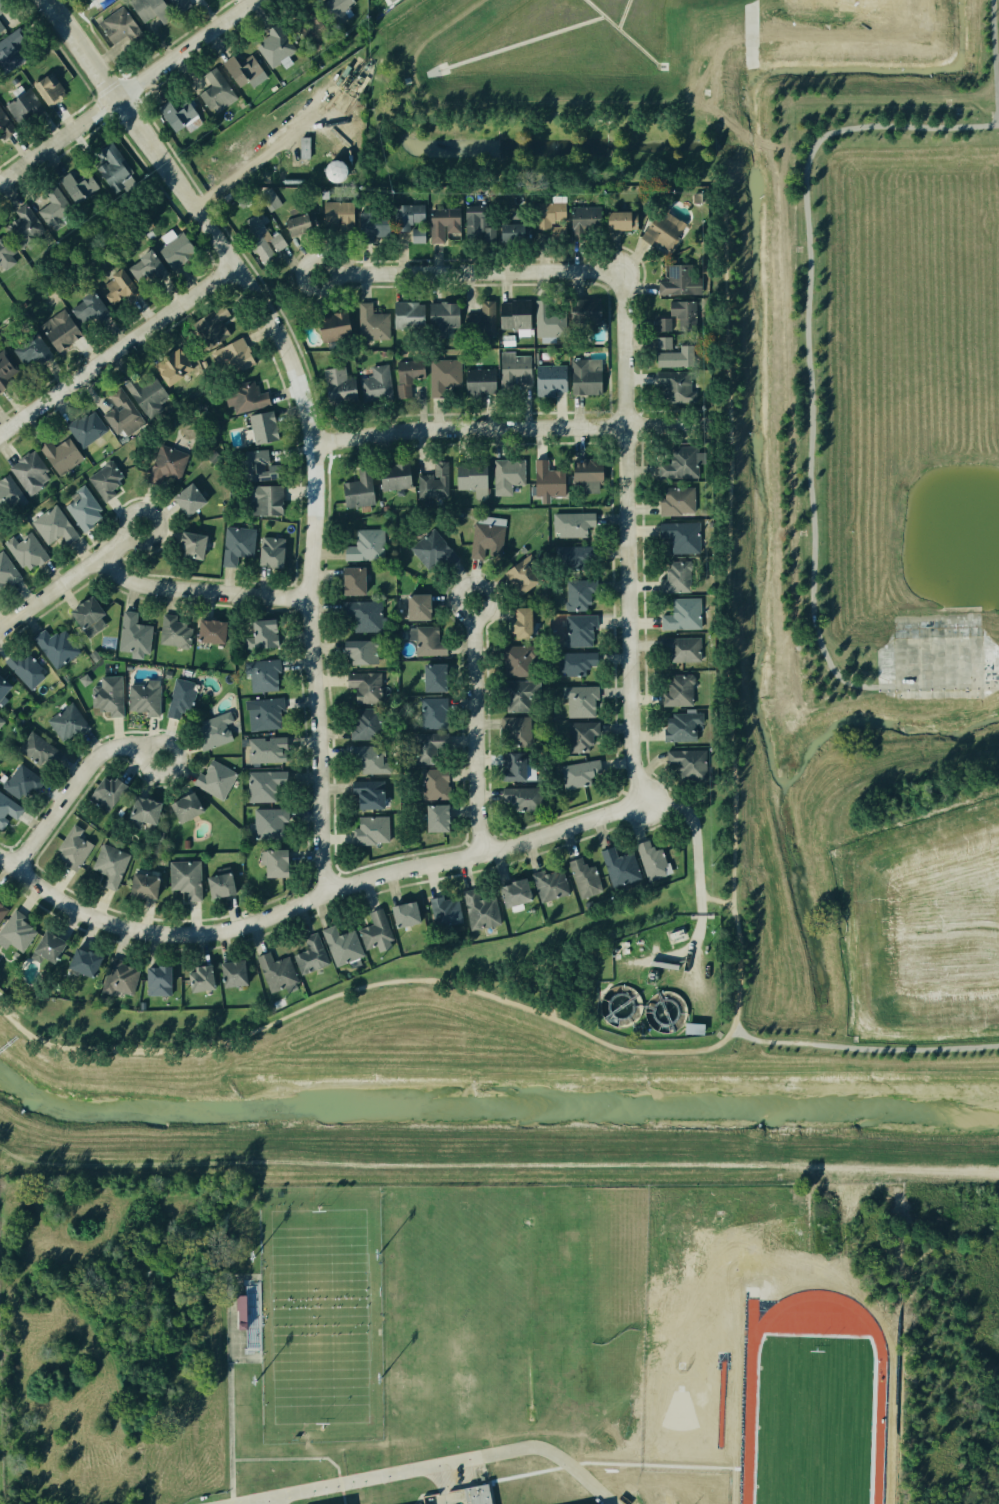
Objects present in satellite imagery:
building: (2, 6)
building: (181, 6)
building: (338, 9)
building: (152, 12)
park: (89, 18)
building: (4, 21)
road: (89, 24)
building: (112, 24)
building: (310, 26)
building: (274, 44)
building: (7, 54)
road: (109, 54)
road: (996, 56)
road: (994, 58)
road: (118, 67)
building: (239, 68)
building: (50, 90)
building: (214, 92)
road: (128, 93)
building: (23, 103)
building: (178, 118)
road: (998, 118)
building: (5, 126)
building: (110, 164)
building: (74, 185)
building: (268, 200)
building: (50, 206)
building: (333, 211)
road: (201, 213)
building: (405, 215)
building: (546, 215)
building: (516, 216)
building: (582, 216)
building: (616, 220)
building: (300, 221)
building: (25, 223)
building: (441, 224)
building: (505, 224)
building: (369, 226)
building: (476, 226)
building: (660, 228)
building: (559, 231)
building: (512, 233)
building: (261, 235)
building: (418, 235)
building: (176, 247)
building: (6, 254)
building: (148, 266)
road: (470, 270)
building: (677, 277)
building: (117, 286)
building: (678, 307)
building: (84, 308)
building: (583, 312)
building: (510, 313)
building: (403, 314)
building: (439, 317)
building: (486, 317)
building: (549, 319)
building: (368, 323)
building: (661, 324)
building: (210, 325)
building: (332, 327)
building: (59, 333)
road: (807, 337)
building: (662, 343)
road: (117, 347)
building: (29, 351)
building: (233, 357)
building: (669, 361)
building: (512, 366)
building: (168, 368)
building: (6, 372)
building: (587, 372)
building: (404, 375)
building: (441, 376)
building: (478, 379)
building: (549, 379)
building: (375, 385)
building: (143, 389)
building: (672, 389)
building: (340, 391)
building: (241, 395)
building: (116, 414)
building: (260, 428)
road: (513, 428)
building: (86, 429)
building: (59, 453)
building: (679, 458)
building: (167, 463)
building: (255, 466)
building: (30, 471)
building: (584, 471)
building: (394, 474)
building: (467, 474)
building: (507, 477)
building: (429, 478)
building: (547, 479)
building: (103, 481)
building: (358, 491)
building: (184, 496)
building: (9, 498)
building: (262, 501)
building: (677, 501)
building: (81, 507)
building: (567, 526)
building: (53, 527)
road: (728, 532)
building: (681, 533)
road: (631, 534)
building: (485, 541)
building: (186, 546)
building: (361, 546)
building: (237, 547)
building: (21, 548)
building: (270, 551)
building: (431, 551)
building: (568, 560)
building: (671, 575)
building: (6, 576)
road: (69, 577)
building: (519, 578)
park: (900, 579)
building: (349, 583)
road: (204, 587)
building: (572, 595)
building: (414, 605)
building: (81, 612)
building: (680, 612)
building: (361, 616)
building: (515, 622)
building: (174, 631)
building: (208, 631)
building: (263, 632)
building: (578, 632)
building: (132, 633)
building: (425, 643)
building: (52, 644)
building: (679, 646)
building: (355, 649)
building: (511, 659)
building: (570, 662)
road: (317, 666)
building: (23, 667)
building: (431, 676)
building: (263, 678)
road: (938, 683)
building: (3, 687)
building: (362, 687)
building: (97, 689)
building: (678, 692)
building: (181, 696)
building: (143, 697)
building: (579, 698)
building: (512, 699)
building: (430, 713)
road: (480, 714)
building: (260, 715)
building: (65, 720)
building: (1, 721)
building: (360, 724)
building: (682, 725)
building: (213, 730)
building: (513, 731)
building: (581, 736)
building: (36, 749)
building: (420, 749)
building: (264, 752)
building: (362, 757)
building: (688, 764)
building: (510, 765)
building: (579, 774)
road: (84, 777)
building: (21, 780)
building: (213, 780)
building: (430, 783)
building: (262, 786)
building: (101, 790)
building: (365, 793)
building: (521, 801)
building: (181, 804)
building: (5, 813)
building: (137, 814)
building: (435, 817)
building: (263, 821)
building: (371, 830)
road: (697, 833)
building: (70, 846)
building: (652, 858)
building: (272, 864)
building: (104, 866)
building: (618, 869)
building: (184, 878)
building: (582, 878)
building: (216, 884)
building: (550, 885)
building: (140, 886)
building: (511, 892)
road: (319, 896)
road: (715, 899)
building: (443, 908)
building: (2, 911)
building: (479, 911)
building: (402, 913)
building: (372, 929)
building: (16, 932)
building: (337, 942)
building: (46, 948)
road: (690, 948)
building: (308, 956)
building: (81, 962)
road: (738, 963)
building: (274, 972)
building: (230, 974)
building: (118, 977)
building: (200, 979)
building: (157, 981)
road: (363, 985)
road: (863, 1046)
river: (495, 1122)
park: (319, 1316)
road: (228, 1375)
road: (293, 1459)
road: (437, 1466)
building: (477, 1496)
road: (265, 1502)

